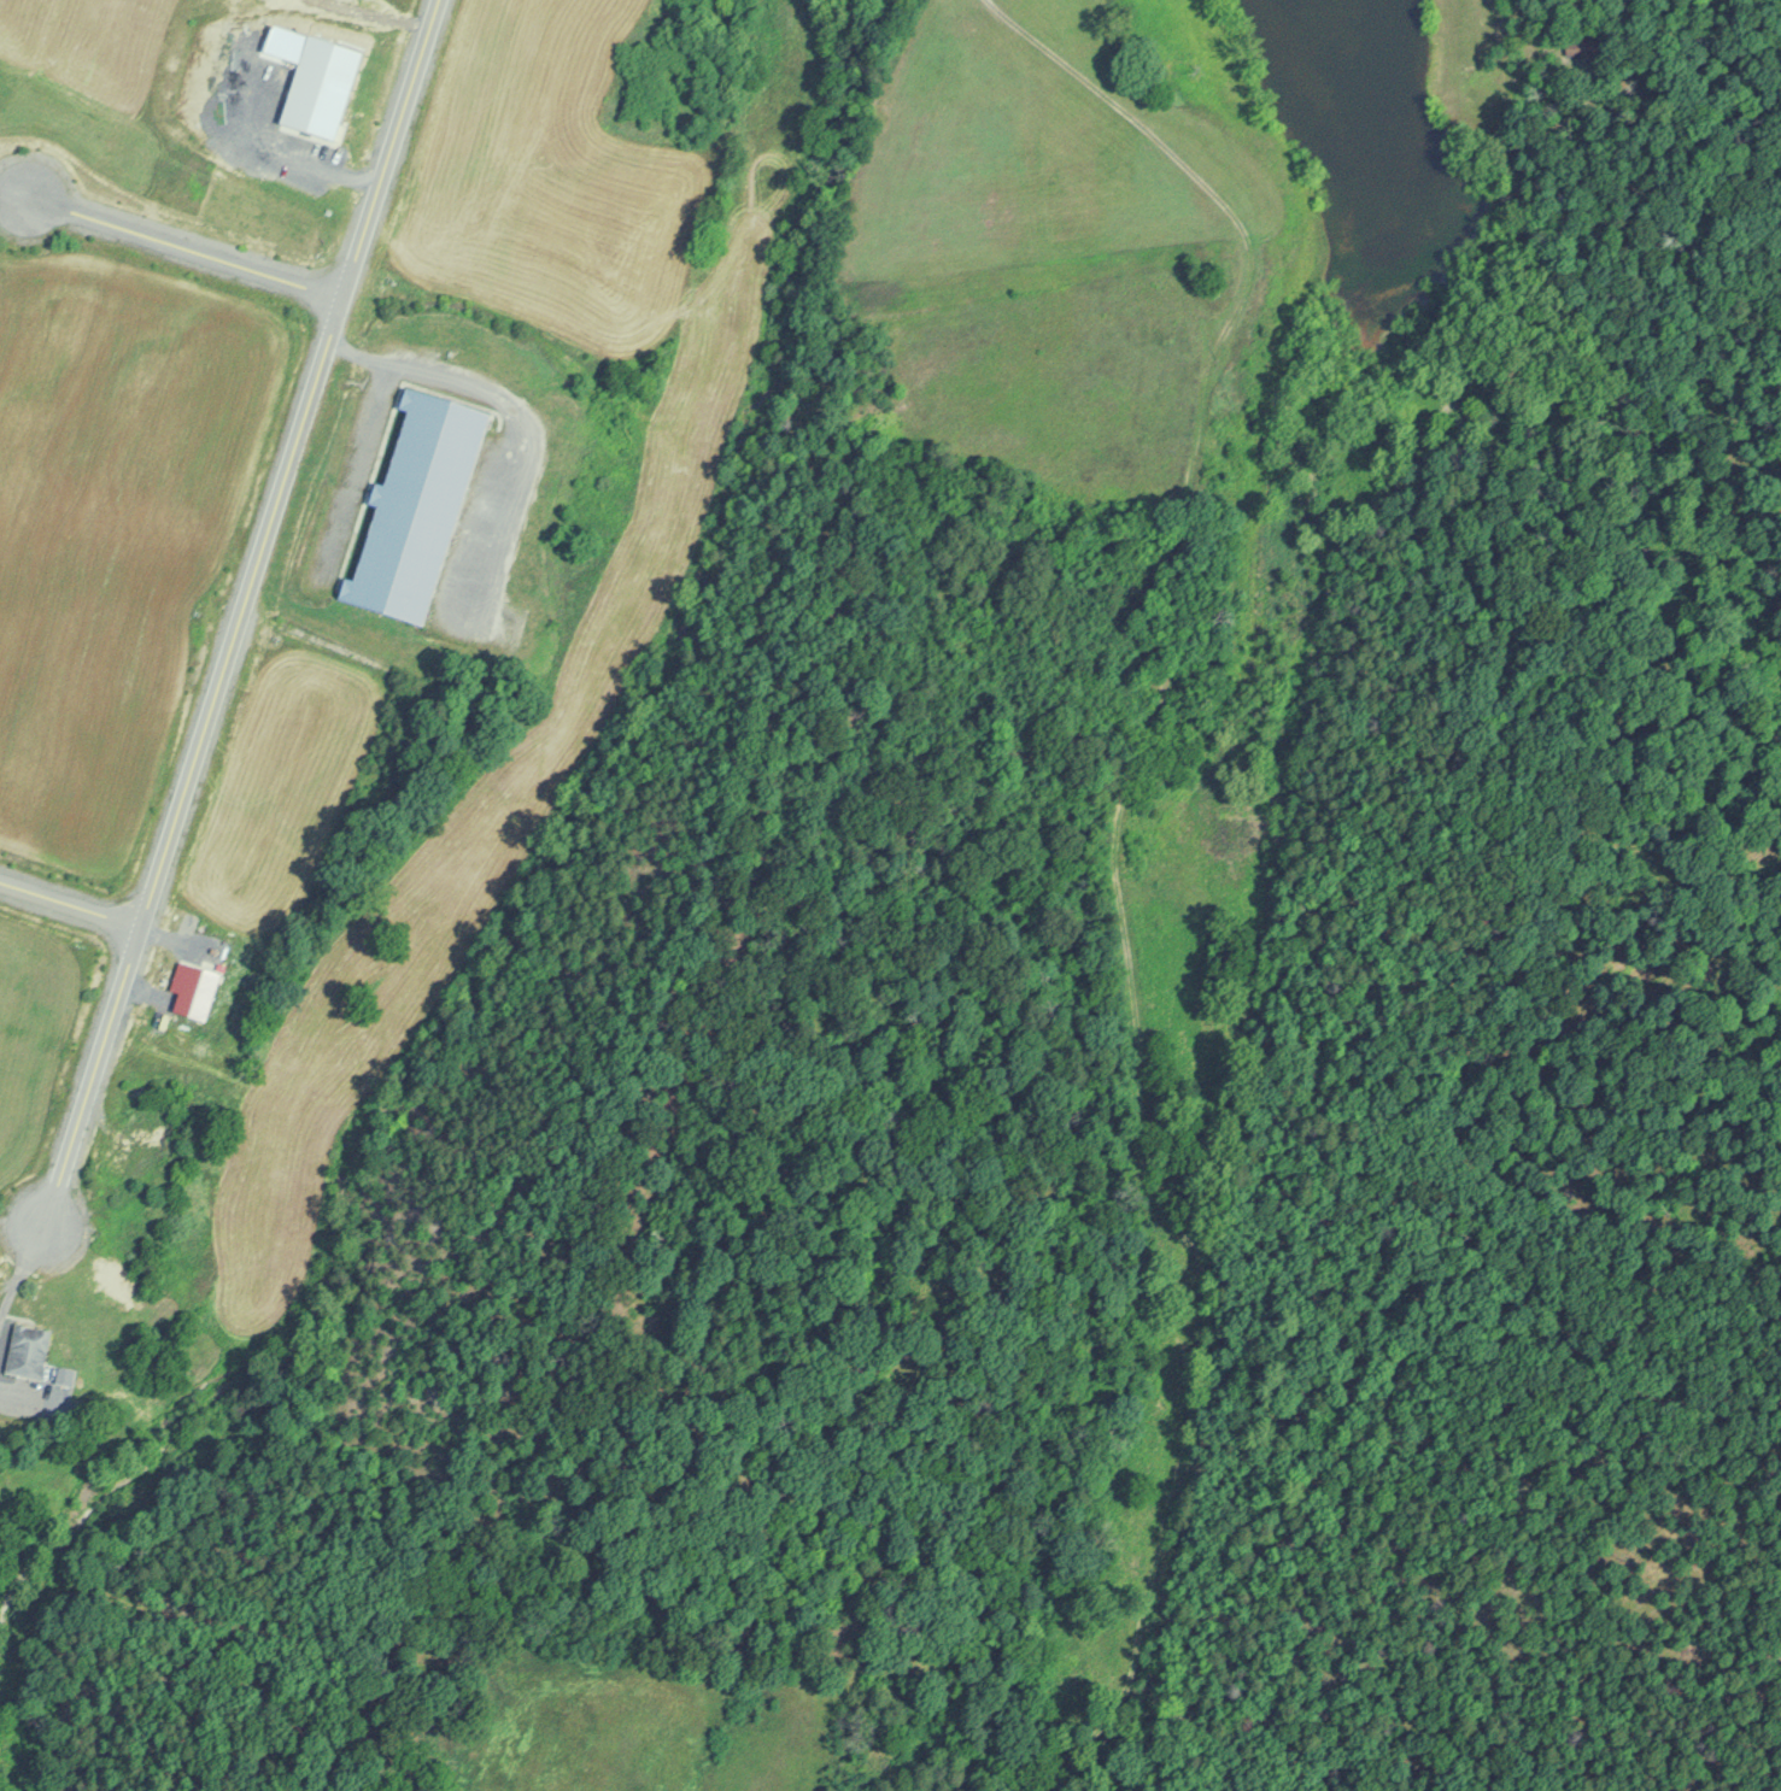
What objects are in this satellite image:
road: (181, 245)
building: (417, 505)
road: (239, 613)
road: (69, 905)
building: (27, 1349)

